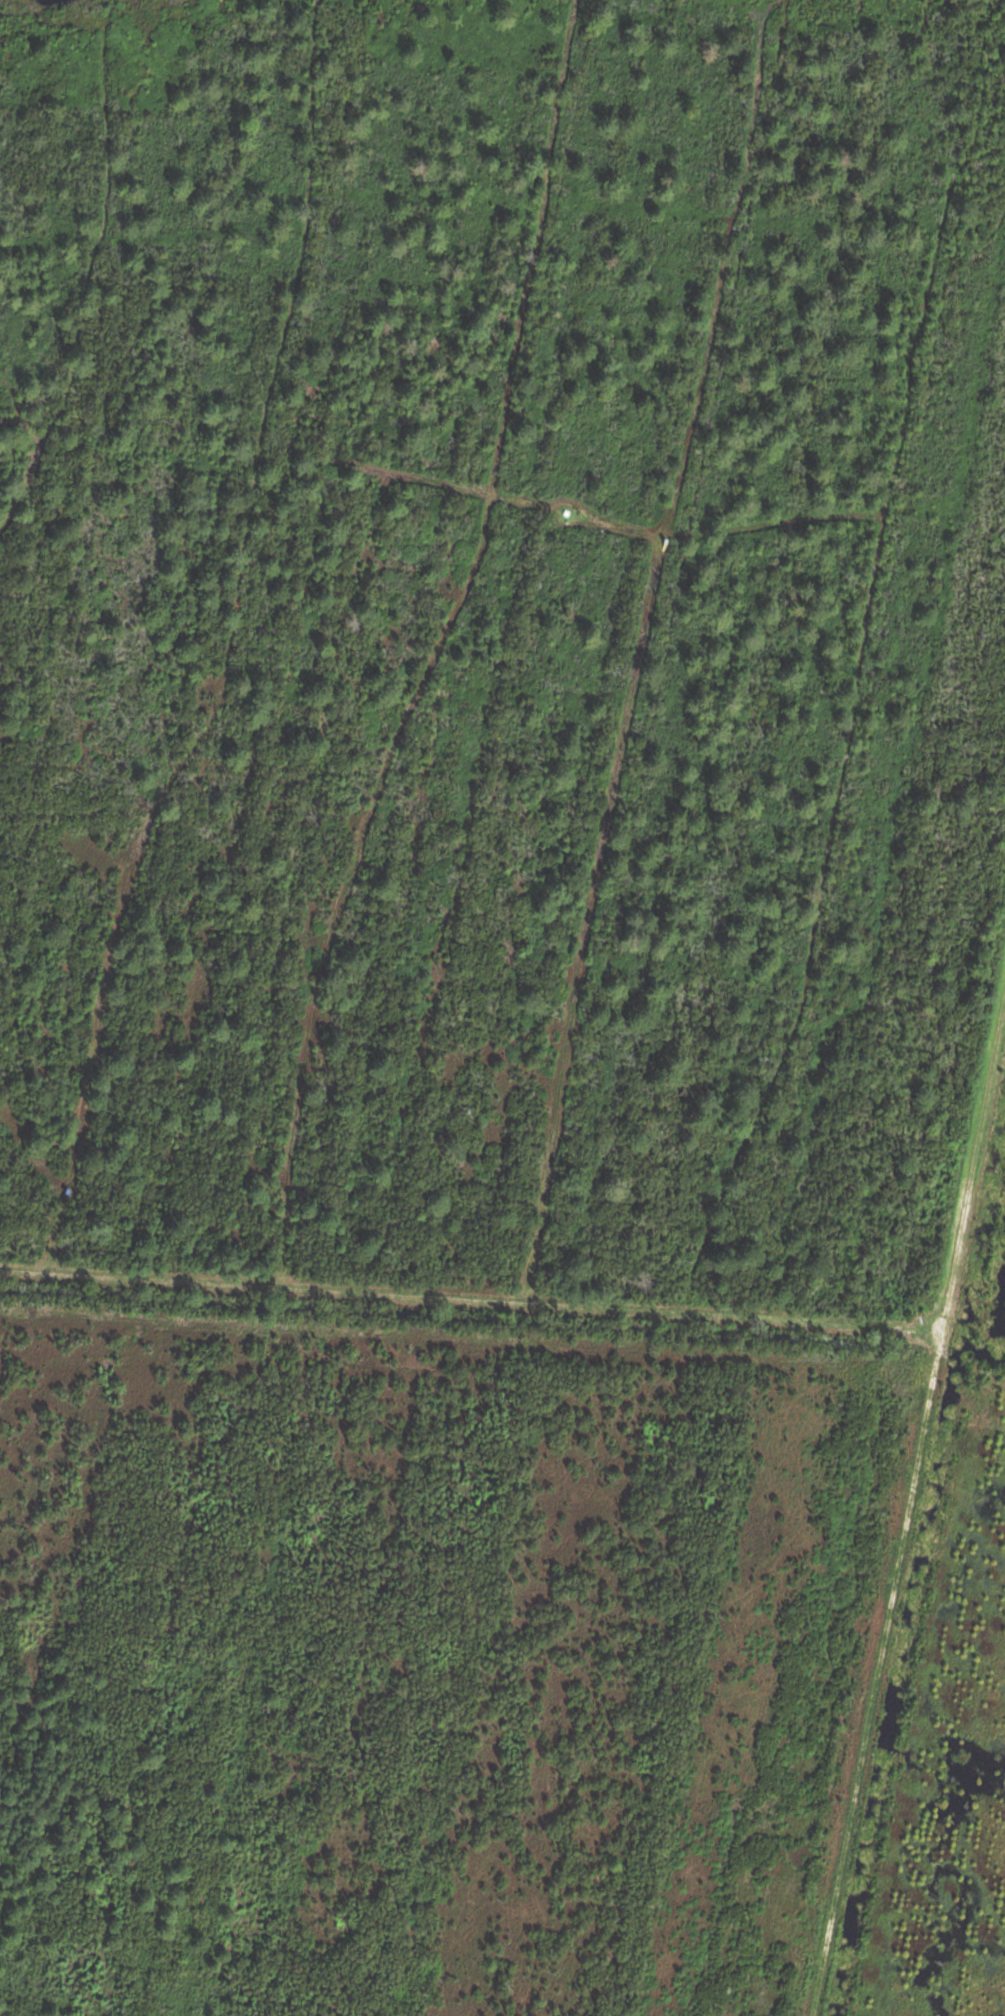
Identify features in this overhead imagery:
building: (66, 1190)
road: (471, 1300)
road: (467, 1338)
road: (908, 1504)

